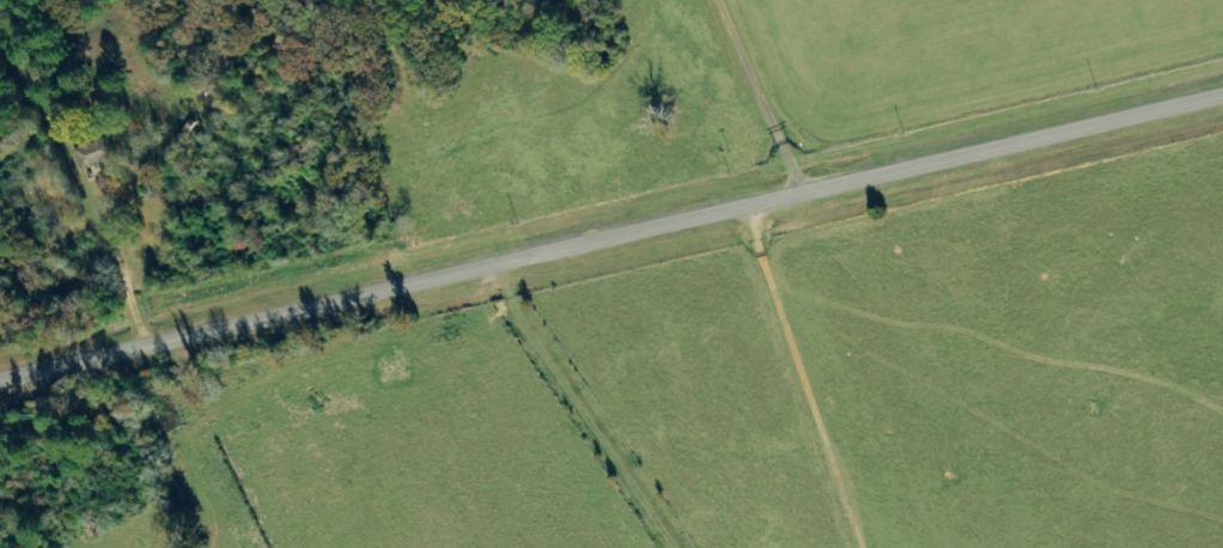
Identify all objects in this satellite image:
road: (707, 101)
building: (96, 152)
road: (611, 239)
road: (780, 372)

